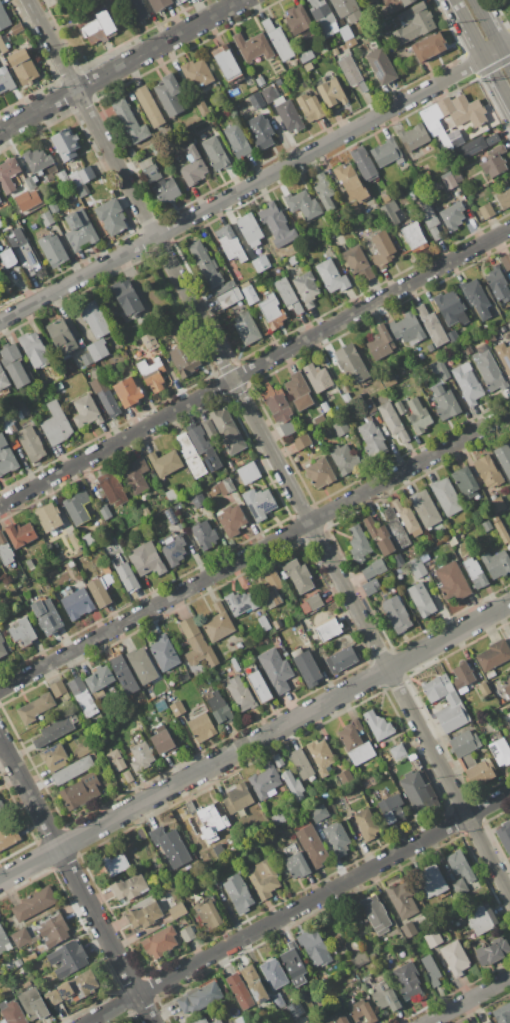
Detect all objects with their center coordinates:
building: (307, 0)
building: (508, 1)
building: (107, 2)
building: (396, 3)
building: (159, 4)
building: (347, 9)
building: (136, 10)
building: (3, 17)
building: (324, 17)
building: (298, 20)
building: (414, 23)
building: (97, 27)
building: (17, 28)
building: (346, 33)
road: (492, 33)
building: (278, 39)
road: (505, 45)
building: (2, 46)
building: (253, 46)
building: (429, 46)
building: (335, 51)
road: (482, 51)
road: (492, 52)
building: (306, 55)
building: (226, 61)
road: (120, 64)
building: (381, 65)
building: (308, 66)
building: (24, 68)
building: (197, 72)
building: (352, 73)
building: (5, 81)
building: (260, 81)
building: (279, 82)
building: (252, 89)
building: (278, 91)
building: (332, 92)
building: (169, 94)
building: (268, 94)
building: (256, 98)
building: (279, 100)
building: (149, 106)
building: (310, 106)
building: (202, 107)
building: (289, 115)
building: (452, 115)
building: (130, 122)
building: (261, 131)
building: (414, 137)
building: (238, 141)
building: (66, 144)
building: (475, 146)
building: (132, 152)
building: (387, 152)
building: (215, 154)
building: (37, 160)
building: (495, 162)
building: (364, 163)
building: (193, 166)
building: (149, 170)
building: (8, 174)
building: (81, 176)
building: (425, 177)
building: (458, 177)
building: (64, 178)
building: (31, 181)
building: (449, 181)
building: (505, 181)
building: (351, 182)
road: (242, 187)
building: (82, 190)
building: (166, 190)
building: (324, 191)
building: (36, 197)
building: (409, 197)
building: (504, 198)
building: (0, 199)
building: (388, 199)
building: (26, 200)
building: (303, 204)
building: (53, 206)
building: (487, 210)
building: (354, 211)
building: (453, 215)
building: (111, 216)
building: (396, 217)
building: (47, 218)
building: (274, 219)
building: (430, 220)
building: (1, 224)
building: (357, 227)
building: (79, 229)
building: (250, 229)
building: (413, 235)
building: (230, 243)
building: (52, 250)
building: (382, 250)
building: (23, 251)
building: (8, 257)
building: (292, 260)
building: (506, 261)
building: (259, 263)
building: (358, 263)
building: (206, 264)
building: (332, 276)
building: (498, 284)
building: (223, 287)
building: (307, 288)
building: (248, 292)
building: (288, 295)
building: (127, 298)
building: (229, 298)
building: (476, 298)
building: (451, 307)
building: (272, 312)
building: (95, 319)
building: (509, 322)
building: (432, 325)
building: (175, 328)
building: (247, 328)
building: (407, 328)
building: (62, 337)
building: (453, 337)
building: (149, 340)
building: (380, 343)
building: (430, 347)
building: (35, 349)
building: (94, 351)
building: (504, 356)
building: (185, 359)
building: (14, 364)
building: (351, 364)
road: (254, 366)
building: (440, 369)
building: (489, 370)
building: (152, 374)
building: (317, 377)
building: (389, 380)
building: (4, 382)
building: (468, 384)
building: (128, 391)
building: (298, 391)
building: (105, 396)
building: (445, 402)
building: (277, 404)
building: (400, 407)
building: (367, 408)
building: (86, 412)
building: (418, 415)
building: (319, 419)
building: (392, 420)
building: (56, 425)
building: (289, 427)
building: (340, 427)
building: (209, 428)
building: (228, 430)
building: (372, 439)
building: (301, 441)
building: (509, 442)
building: (31, 443)
building: (15, 444)
building: (202, 446)
road: (268, 448)
building: (189, 456)
building: (6, 457)
building: (504, 457)
building: (343, 458)
building: (165, 462)
building: (230, 464)
building: (320, 472)
building: (488, 472)
building: (249, 473)
building: (136, 475)
building: (465, 482)
building: (228, 484)
building: (112, 489)
building: (214, 491)
building: (446, 495)
building: (172, 496)
building: (199, 500)
building: (261, 504)
building: (496, 504)
building: (178, 506)
building: (77, 507)
building: (425, 508)
building: (144, 511)
building: (105, 512)
building: (390, 514)
building: (49, 516)
building: (171, 516)
building: (406, 517)
building: (495, 518)
building: (231, 520)
building: (181, 525)
building: (486, 525)
building: (456, 529)
building: (398, 532)
building: (502, 532)
building: (21, 533)
building: (204, 535)
building: (379, 536)
building: (87, 538)
building: (452, 541)
building: (75, 542)
building: (359, 543)
building: (6, 550)
building: (174, 550)
road: (255, 550)
building: (425, 557)
building: (146, 559)
building: (398, 560)
building: (70, 563)
building: (496, 563)
building: (30, 564)
building: (374, 568)
building: (417, 568)
building: (475, 573)
building: (298, 575)
building: (127, 577)
building: (272, 579)
building: (452, 582)
building: (100, 587)
building: (371, 587)
building: (272, 598)
building: (421, 599)
building: (314, 601)
building: (241, 602)
building: (77, 603)
building: (397, 614)
building: (47, 617)
building: (264, 622)
building: (217, 624)
building: (329, 629)
building: (22, 633)
building: (197, 645)
building: (239, 645)
building: (2, 647)
building: (252, 647)
building: (284, 650)
building: (163, 653)
building: (493, 655)
building: (341, 660)
building: (142, 665)
building: (235, 665)
building: (307, 668)
building: (275, 670)
building: (124, 674)
building: (490, 675)
building: (462, 676)
building: (99, 680)
building: (260, 687)
building: (506, 687)
building: (59, 689)
building: (484, 689)
building: (241, 694)
building: (150, 696)
building: (82, 697)
building: (502, 701)
building: (455, 703)
building: (160, 705)
building: (36, 708)
building: (177, 708)
building: (219, 708)
building: (506, 715)
building: (474, 722)
building: (377, 724)
building: (201, 727)
building: (508, 728)
building: (56, 729)
building: (163, 740)
road: (255, 740)
building: (356, 742)
building: (464, 743)
building: (83, 749)
building: (500, 749)
building: (398, 752)
building: (141, 754)
building: (320, 756)
building: (54, 757)
building: (116, 760)
building: (277, 760)
building: (301, 764)
building: (73, 770)
building: (477, 770)
building: (345, 774)
building: (127, 775)
building: (265, 780)
building: (294, 785)
building: (417, 790)
building: (80, 792)
building: (237, 798)
building: (190, 807)
building: (392, 809)
building: (2, 810)
building: (317, 812)
building: (277, 818)
building: (211, 820)
building: (366, 824)
building: (140, 832)
building: (505, 835)
building: (8, 836)
building: (336, 838)
building: (171, 846)
building: (312, 846)
building: (295, 862)
building: (115, 864)
road: (68, 868)
building: (462, 874)
building: (264, 878)
building: (430, 881)
building: (215, 885)
building: (129, 887)
building: (238, 893)
road: (323, 893)
building: (403, 899)
building: (34, 903)
building: (177, 911)
building: (144, 913)
building: (375, 914)
building: (207, 916)
building: (481, 918)
building: (409, 930)
building: (54, 931)
building: (187, 934)
building: (21, 937)
building: (433, 938)
building: (4, 941)
building: (160, 942)
building: (314, 947)
building: (492, 951)
building: (456, 957)
building: (68, 958)
building: (360, 958)
building: (28, 959)
building: (18, 962)
building: (294, 964)
building: (431, 970)
building: (274, 974)
building: (408, 980)
building: (27, 983)
building: (255, 983)
building: (79, 987)
building: (240, 991)
building: (381, 993)
building: (53, 997)
building: (199, 997)
road: (467, 999)
building: (278, 1001)
building: (33, 1004)
road: (111, 1009)
road: (144, 1009)
building: (295, 1009)
building: (362, 1012)
building: (13, 1013)
building: (502, 1014)
building: (336, 1018)
building: (201, 1020)
building: (239, 1020)
building: (217, 1021)
building: (313, 1022)
building: (489, 1022)

